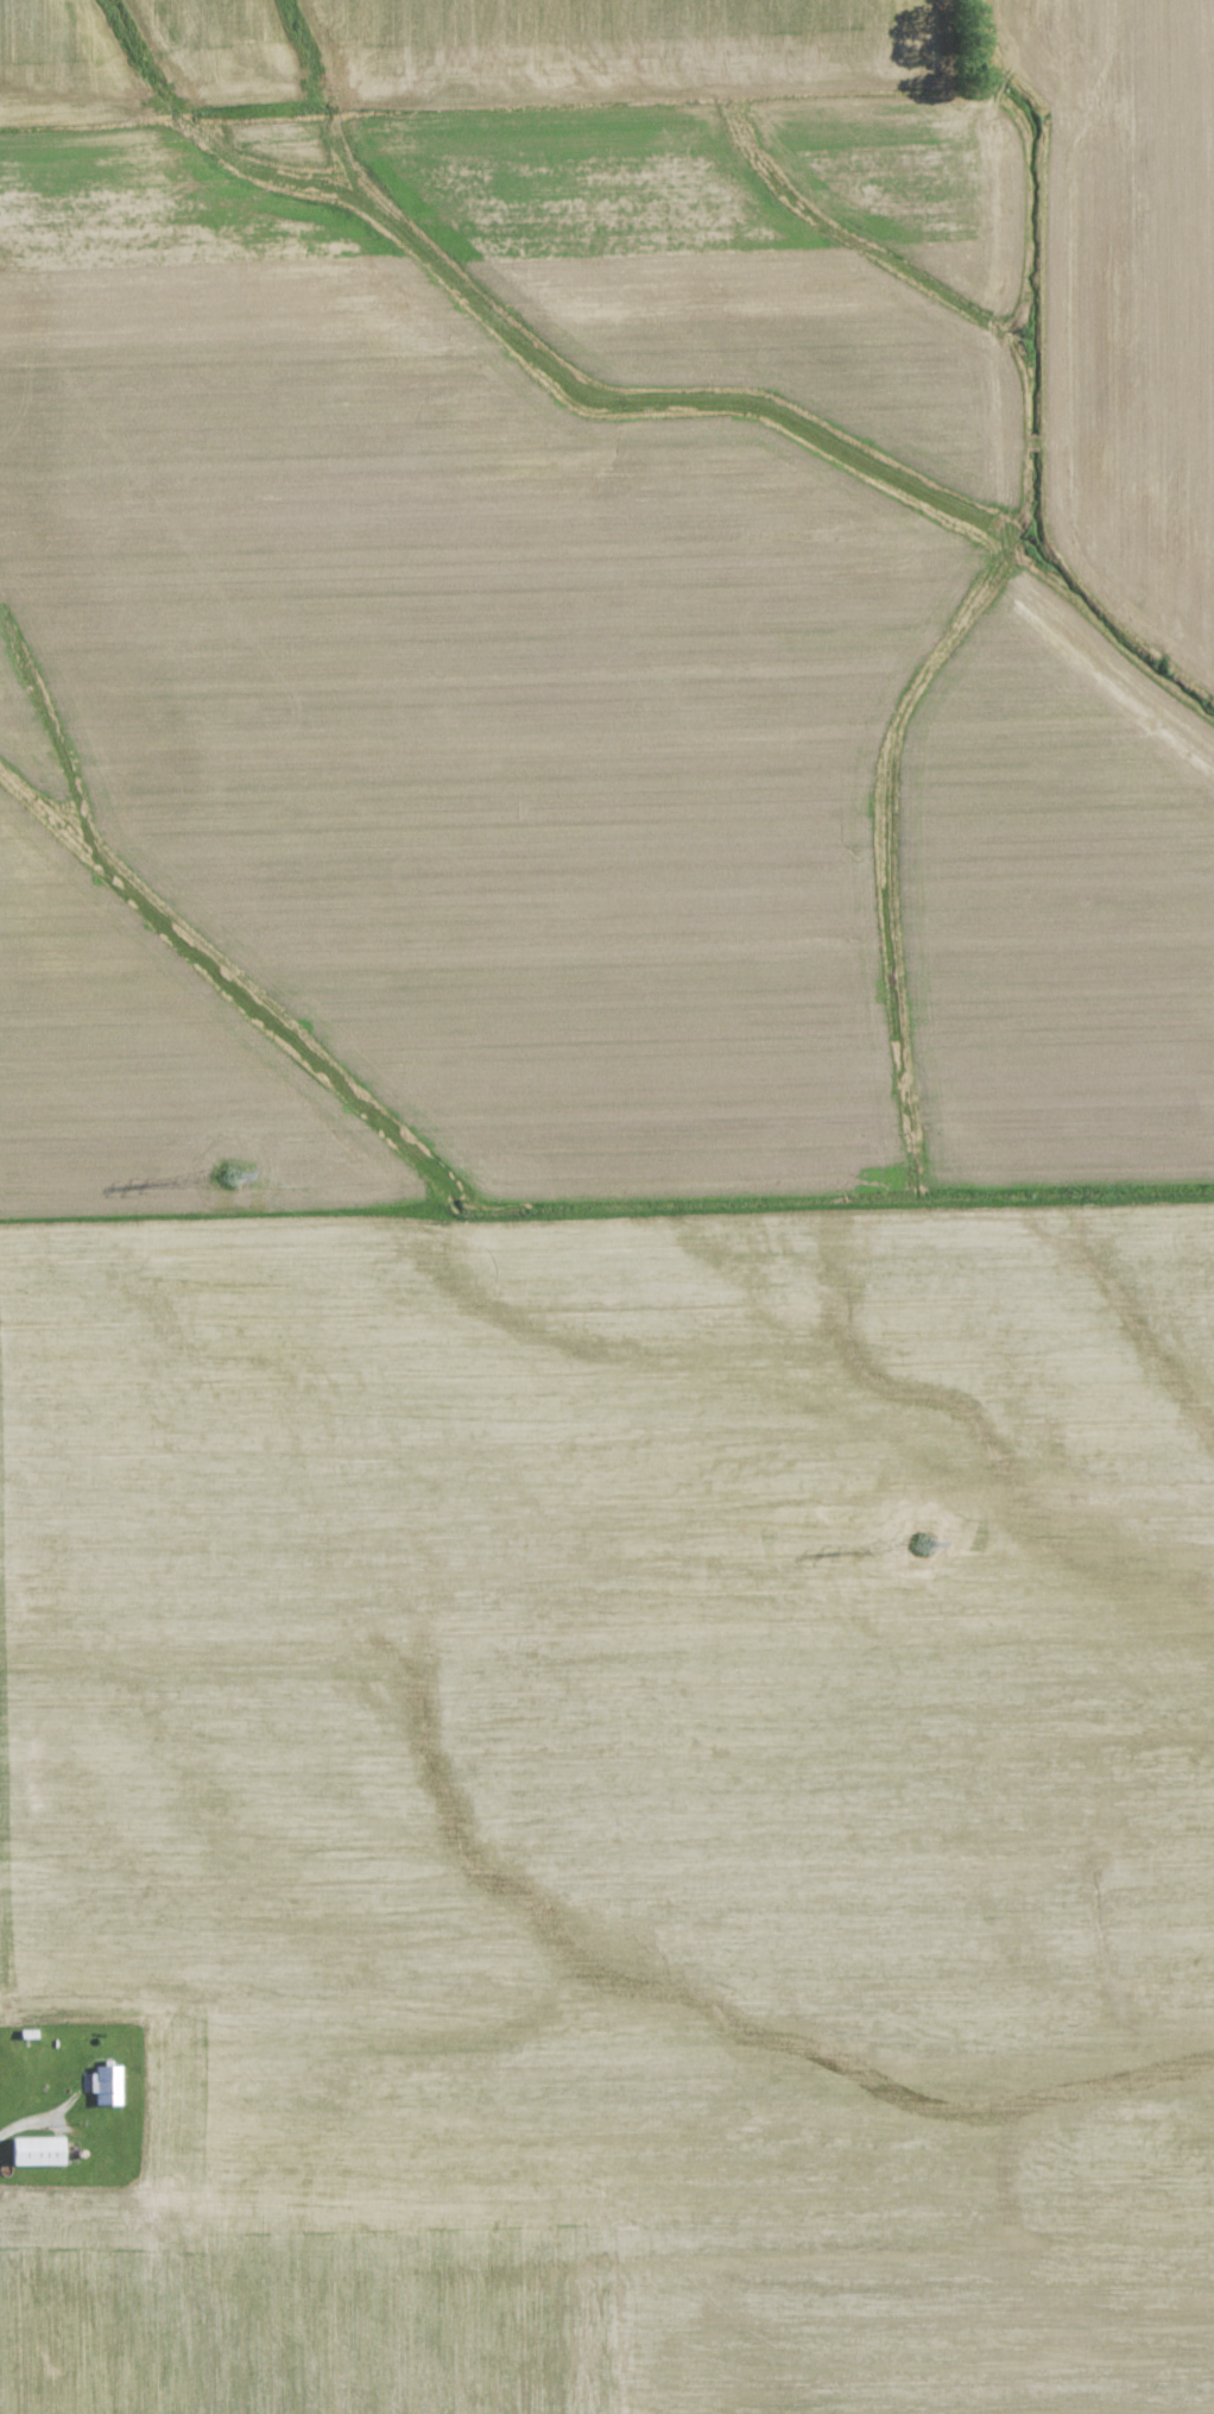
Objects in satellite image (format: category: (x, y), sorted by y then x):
power tower: (234, 1181)
power tower: (913, 1559)
building: (110, 2085)
building: (43, 2151)

